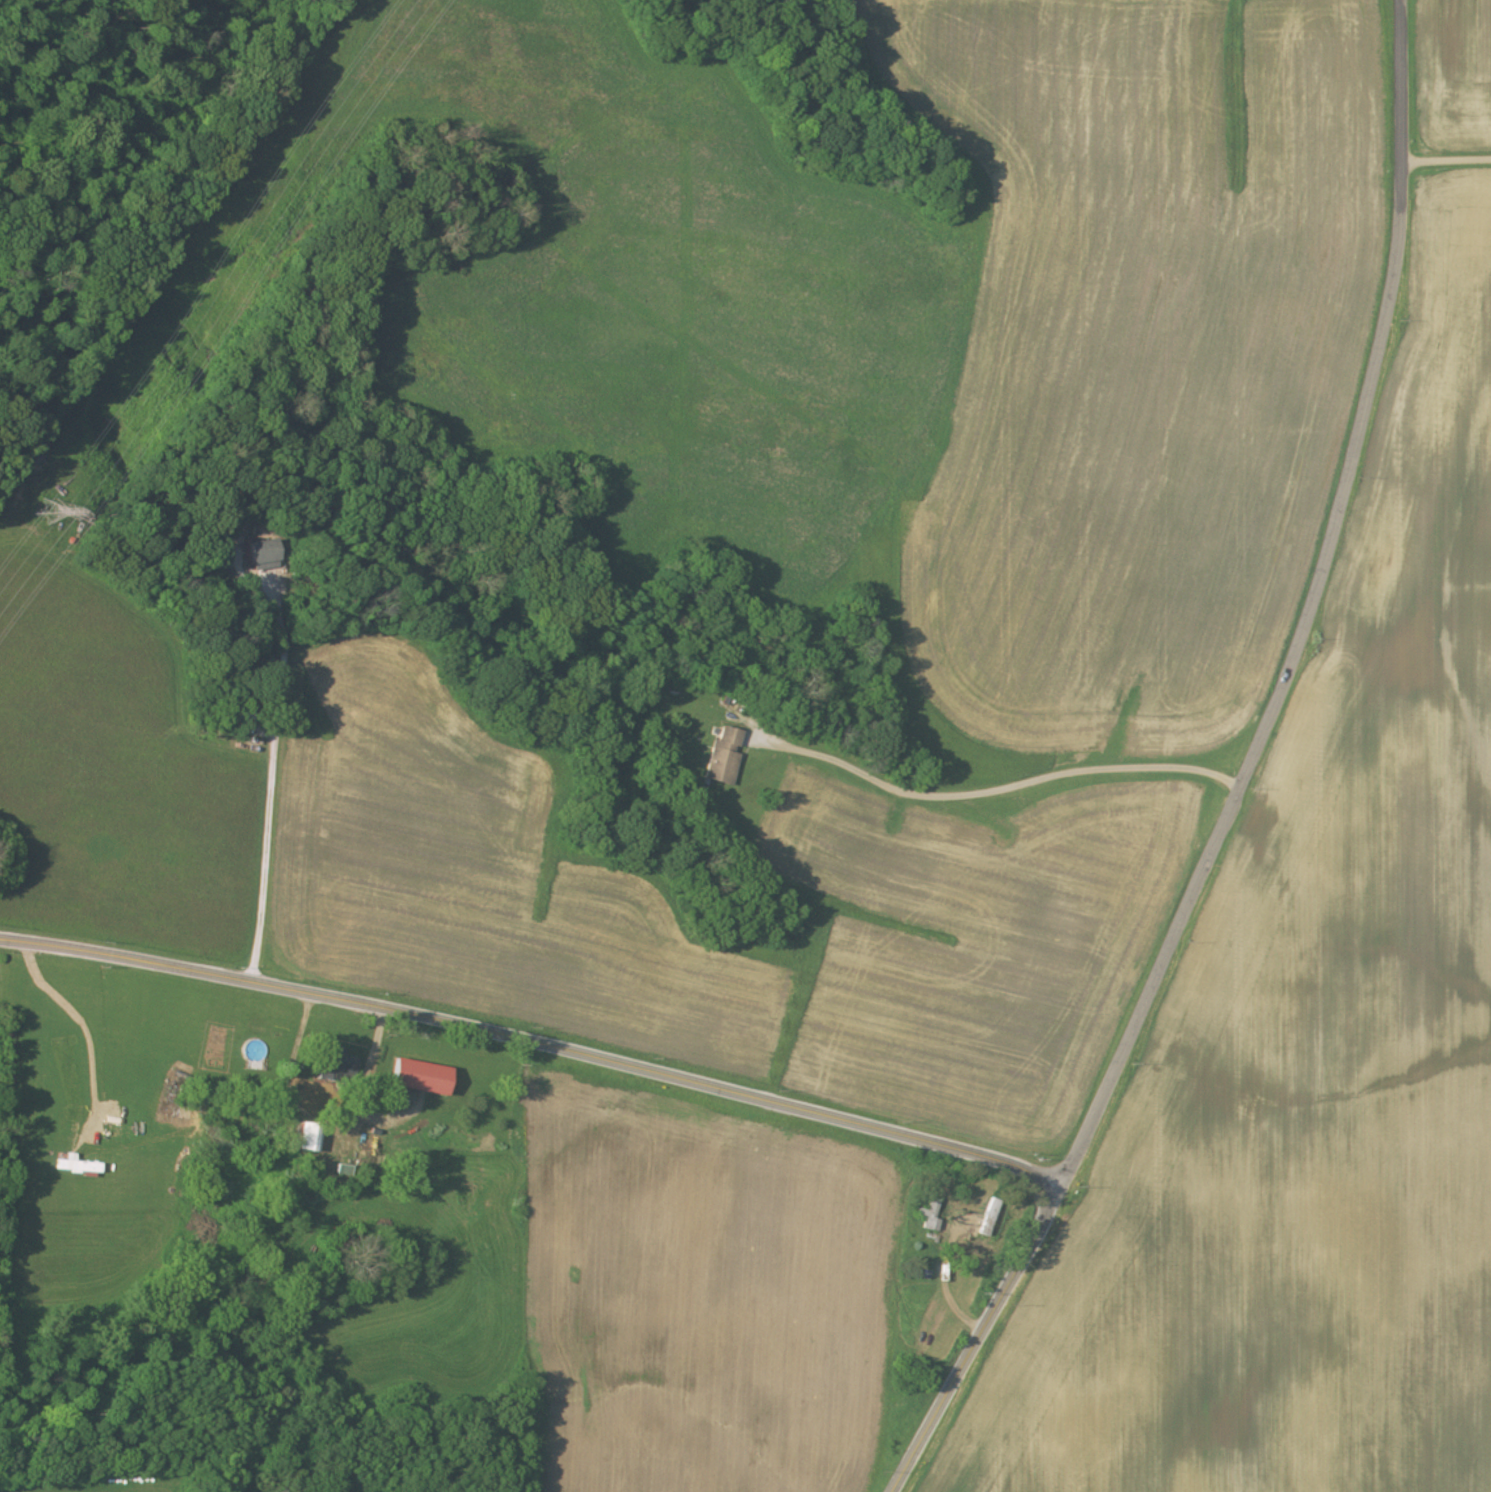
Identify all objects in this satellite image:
power tower: (36, 517)
building: (262, 556)
road: (1303, 623)
building: (722, 758)
road: (269, 779)
road: (994, 792)
road: (530, 1044)
building: (335, 1061)
building: (419, 1077)
building: (309, 1141)
building: (986, 1219)
road: (972, 1346)

